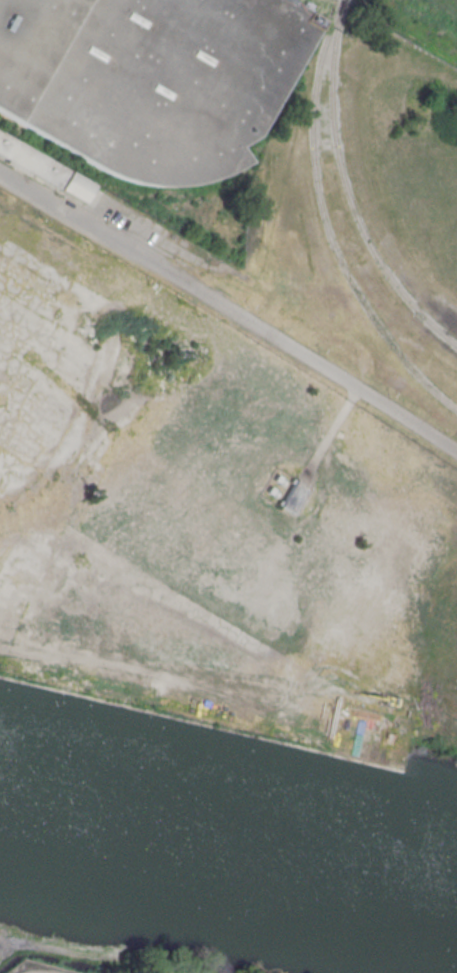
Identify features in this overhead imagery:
wastewater plant: (353, 5)
building: (150, 79)
building: (42, 168)
railway: (345, 191)
railway: (324, 225)
street lamp: (246, 305)
road: (229, 310)
street lamp: (317, 350)
street lamp: (387, 394)
street lamp: (456, 439)
building: (294, 495)
river: (227, 849)

